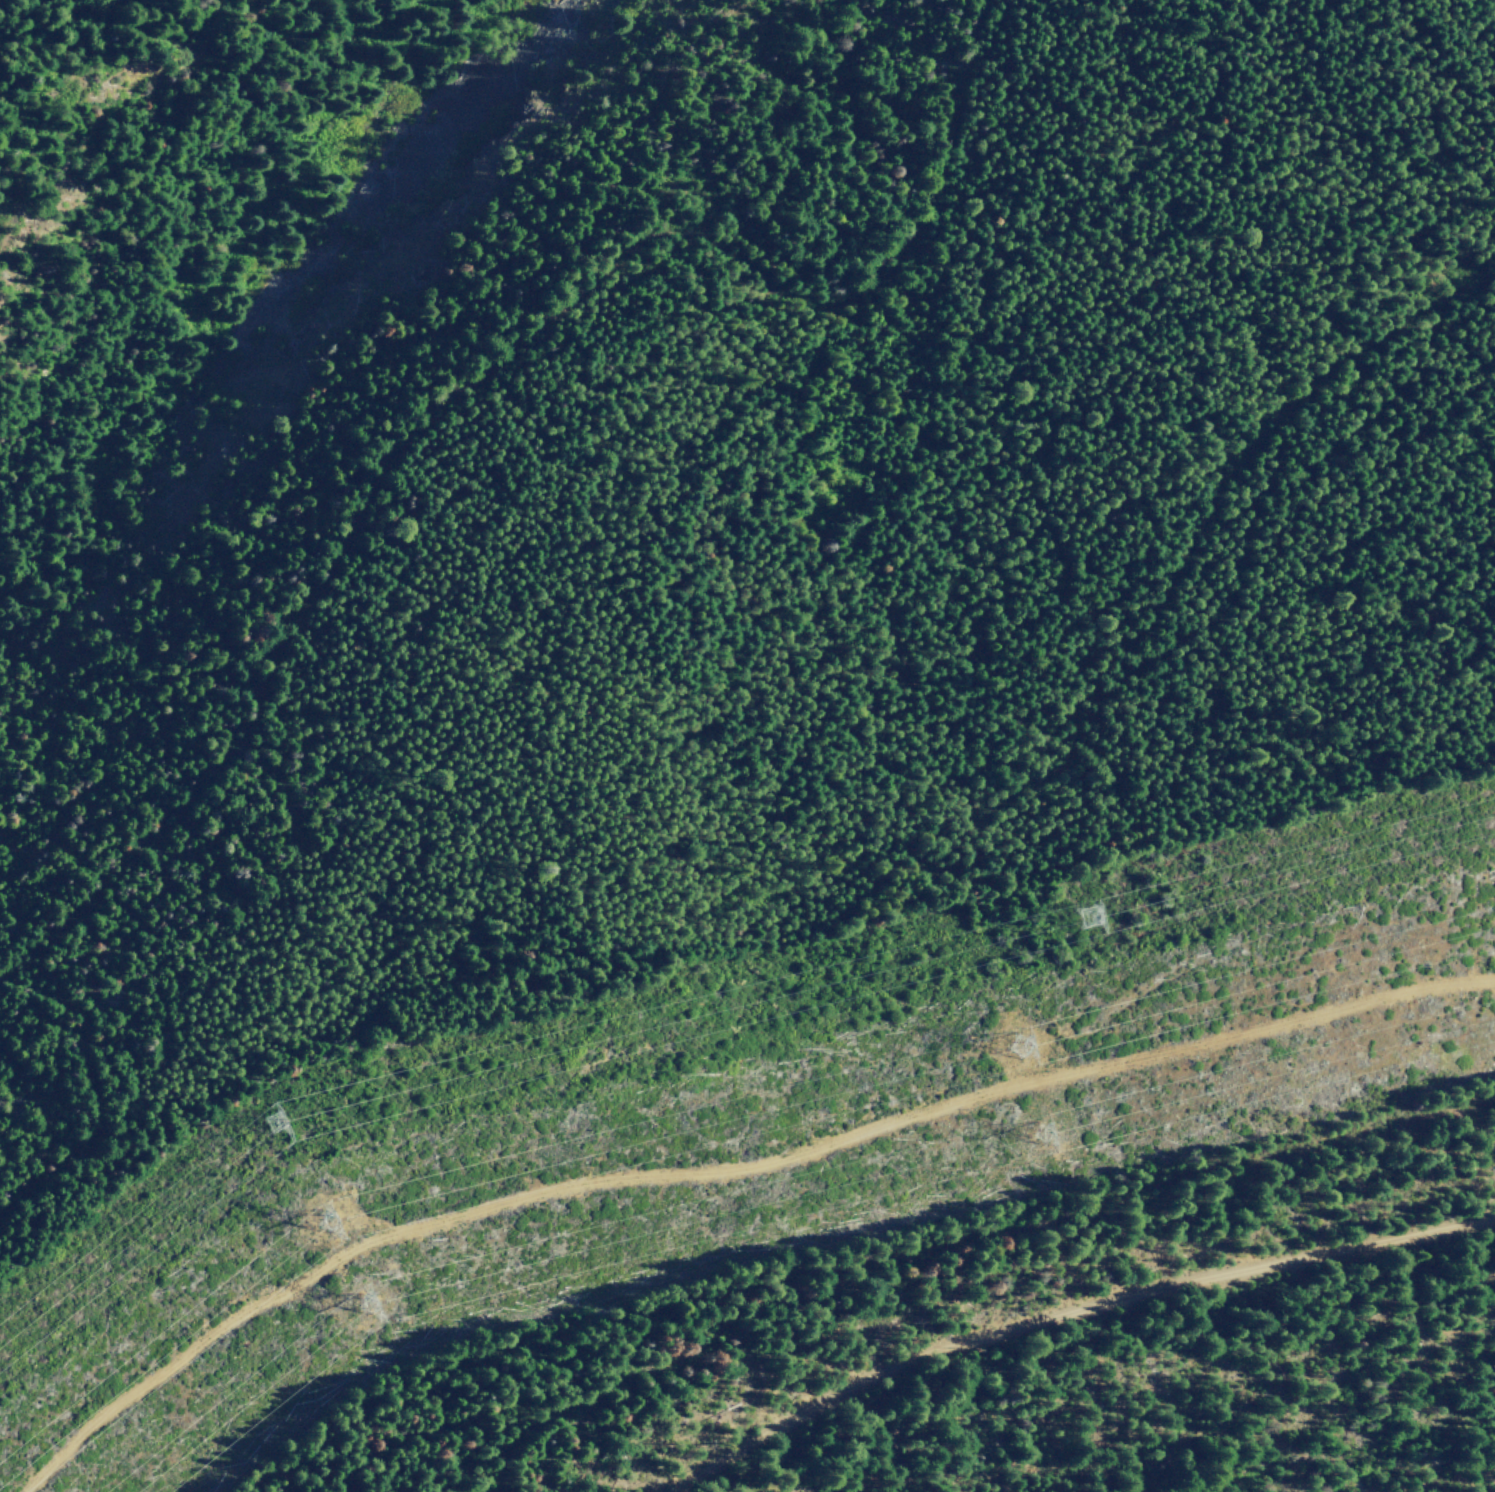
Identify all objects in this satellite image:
power tower: (1096, 911)
power tower: (1024, 1043)
power tower: (288, 1118)
power tower: (1045, 1136)
power tower: (334, 1216)
power tower: (374, 1304)

